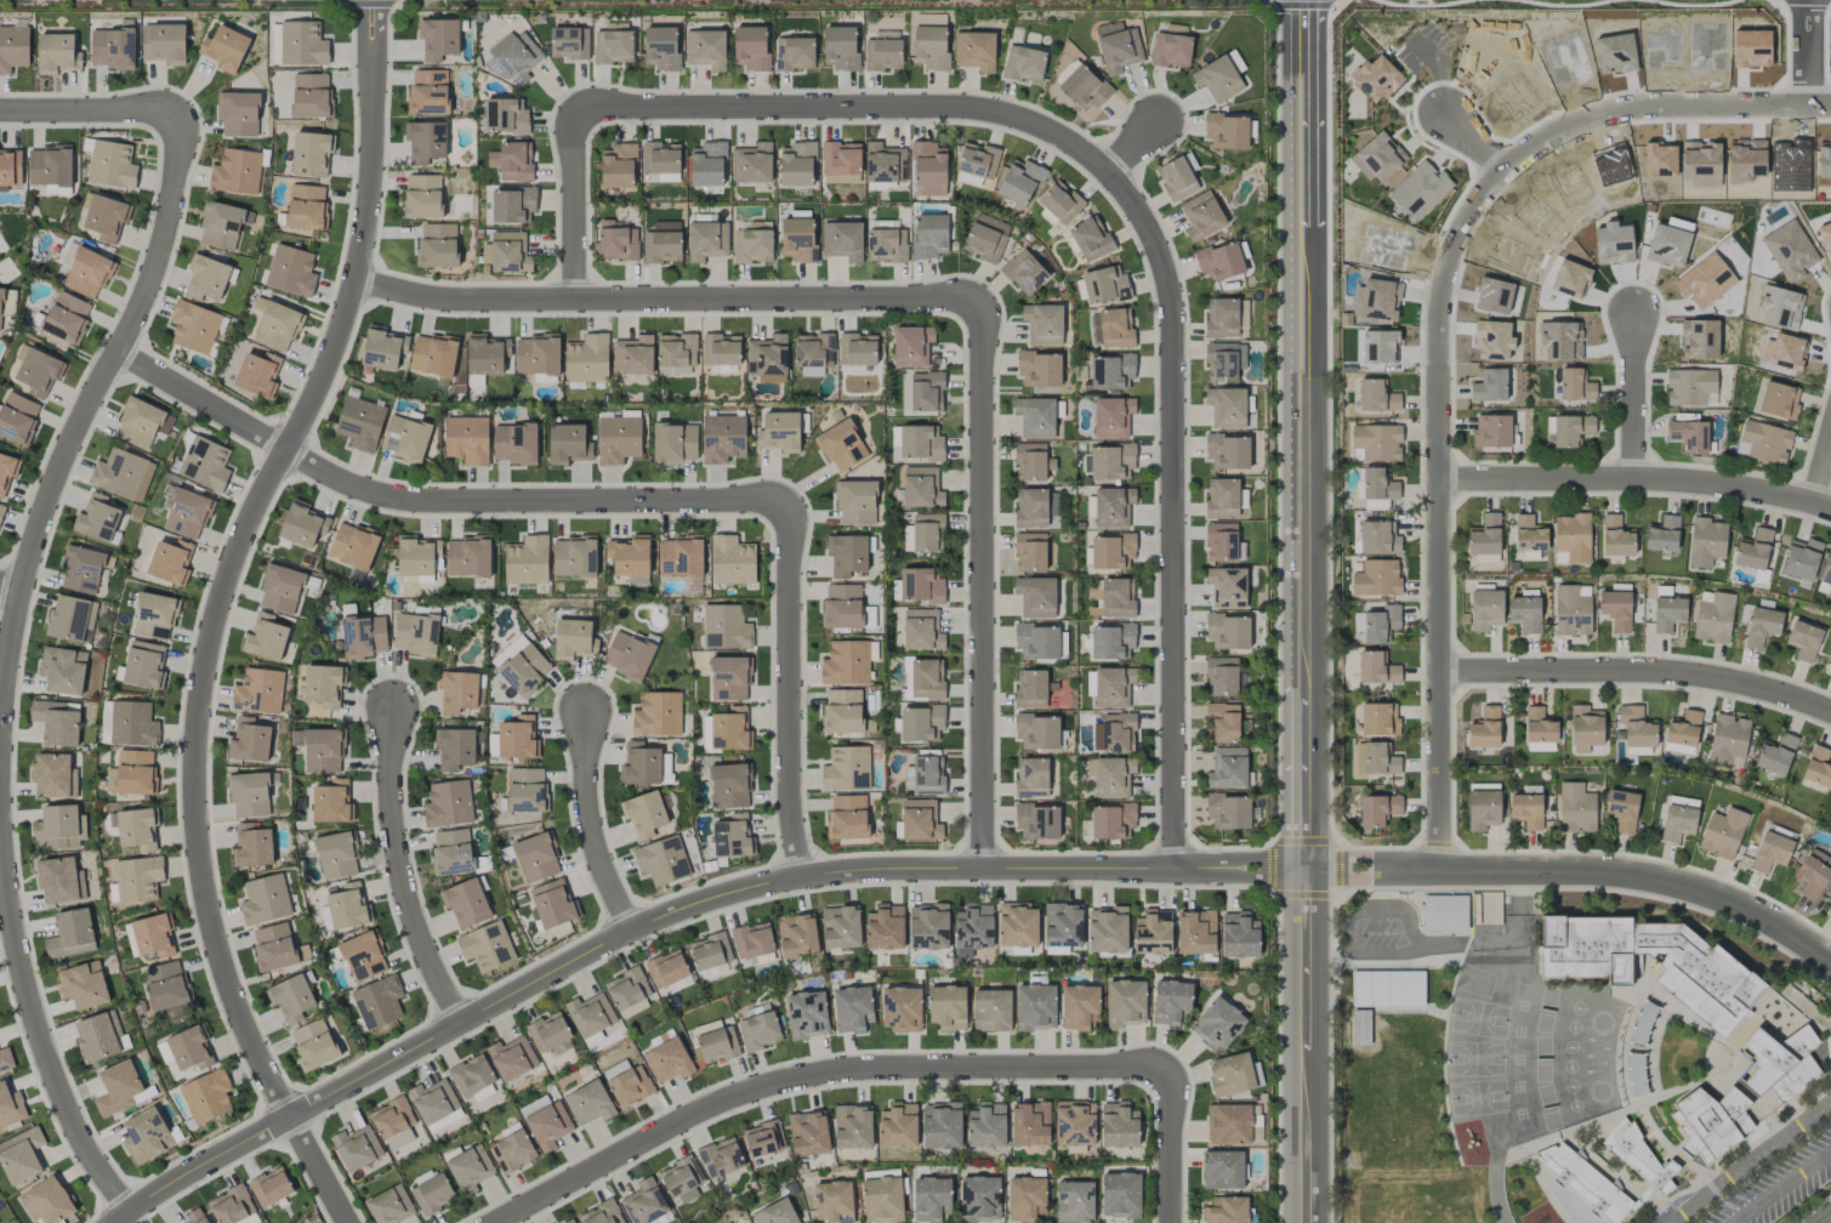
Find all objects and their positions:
building: (438, 38)
building: (164, 42)
building: (569, 42)
building: (301, 44)
building: (1706, 45)
building: (613, 46)
building: (931, 46)
building: (13, 47)
building: (660, 47)
building: (750, 47)
building: (840, 47)
building: (1118, 47)
building: (1171, 47)
building: (1662, 47)
building: (112, 49)
building: (224, 49)
building: (705, 49)
building: (1751, 49)
road: (1810, 50)
building: (974, 51)
building: (57, 53)
building: (794, 53)
building: (882, 53)
building: (1615, 53)
building: (514, 58)
building: (1565, 58)
building: (1234, 61)
building: (1023, 63)
building: (1217, 79)
building: (1084, 89)
building: (428, 92)
building: (1514, 95)
building: (311, 96)
road: (853, 106)
road: (93, 113)
building: (238, 114)
building: (506, 115)
building: (1227, 131)
road: (1554, 132)
road: (1475, 140)
building: (426, 142)
road: (1136, 143)
building: (311, 154)
building: (512, 160)
building: (1825, 161)
building: (660, 163)
building: (751, 163)
building: (843, 163)
building: (883, 163)
building: (110, 164)
building: (707, 164)
building: (797, 164)
building: (976, 164)
building: (50, 165)
building: (1790, 165)
building: (618, 166)
building: (10, 169)
building: (928, 169)
building: (235, 171)
building: (1176, 178)
building: (1019, 182)
building: (58, 190)
building: (422, 197)
road: (576, 201)
building: (1060, 201)
building: (512, 205)
building: (306, 206)
building: (1201, 216)
building: (106, 217)
building: (220, 226)
building: (929, 235)
building: (1826, 235)
building: (1090, 238)
building: (798, 239)
building: (706, 240)
building: (842, 240)
building: (615, 241)
building: (663, 243)
building: (983, 243)
building: (437, 245)
building: (886, 245)
building: (752, 246)
building: (506, 252)
building: (1219, 262)
building: (290, 271)
building: (1024, 272)
building: (87, 273)
building: (206, 278)
building: (1104, 285)
road: (669, 297)
building: (0, 307)
building: (66, 318)
building: (1221, 318)
building: (275, 324)
building: (1042, 324)
building: (193, 326)
building: (1115, 328)
building: (911, 346)
building: (382, 348)
building: (721, 349)
building: (857, 349)
building: (813, 353)
building: (433, 354)
building: (485, 354)
building: (538, 354)
building: (676, 354)
building: (633, 355)
building: (767, 355)
building: (586, 359)
building: (1224, 362)
building: (1039, 369)
building: (1111, 371)
building: (39, 372)
building: (257, 374)
building: (1575, 385)
building: (1489, 386)
building: (1689, 386)
building: (926, 392)
building: (1377, 396)
road: (1636, 400)
building: (1779, 400)
building: (1227, 406)
building: (17, 417)
building: (1035, 417)
building: (1113, 417)
building: (138, 422)
building: (360, 423)
building: (1571, 430)
building: (1492, 431)
building: (779, 432)
road: (1304, 436)
building: (1688, 436)
building: (405, 438)
building: (722, 438)
building: (467, 439)
building: (618, 439)
building: (1377, 442)
building: (1765, 442)
building: (514, 443)
building: (675, 443)
building: (921, 443)
building: (568, 444)
building: (841, 445)
building: (1228, 451)
road: (1820, 461)
building: (1031, 462)
building: (1111, 462)
building: (205, 463)
building: (6, 473)
building: (121, 474)
road: (1637, 482)
building: (921, 488)
building: (1378, 489)
building: (1222, 497)
road: (437, 501)
building: (855, 504)
building: (1031, 507)
building: (1113, 507)
building: (1, 512)
building: (186, 513)
road: (1176, 513)
building: (97, 518)
building: (303, 525)
building: (927, 533)
building: (1529, 534)
building: (1662, 534)
building: (1485, 535)
building: (1573, 536)
building: (1616, 536)
building: (1378, 537)
building: (908, 539)
building: (1222, 541)
building: (1706, 541)
building: (353, 545)
building: (1753, 550)
building: (1030, 551)
building: (1111, 551)
building: (847, 554)
road: (235, 556)
building: (417, 556)
building: (468, 556)
building: (574, 556)
building: (630, 556)
building: (679, 557)
building: (1802, 559)
building: (527, 561)
building: (732, 561)
building: (170, 562)
building: (81, 570)
building: (1376, 578)
road: (985, 581)
road: (11, 585)
building: (921, 585)
building: (1227, 587)
building: (280, 588)
building: (1036, 597)
building: (1114, 597)
building: (842, 607)
building: (1485, 609)
building: (1573, 609)
building: (1616, 609)
building: (1667, 611)
building: (1525, 614)
building: (154, 616)
building: (1713, 618)
building: (72, 619)
road: (1442, 620)
building: (1376, 625)
building: (1762, 626)
building: (726, 627)
building: (922, 630)
building: (1228, 632)
building: (415, 633)
building: (364, 636)
building: (265, 637)
building: (574, 639)
building: (1037, 641)
building: (1111, 641)
building: (1804, 641)
building: (507, 650)
building: (627, 655)
road: (8, 660)
building: (846, 664)
building: (144, 665)
building: (1377, 669)
building: (62, 670)
building: (524, 670)
building: (1830, 670)
road: (1639, 673)
building: (1221, 677)
building: (729, 678)
building: (927, 678)
building: (323, 684)
building: (1113, 687)
road: (792, 688)
building: (1030, 688)
building: (258, 690)
building: (457, 692)
building: (842, 711)
building: (658, 713)
building: (1378, 718)
building: (921, 722)
building: (1223, 722)
building: (132, 724)
building: (1637, 727)
building: (1485, 728)
building: (1585, 728)
building: (730, 729)
building: (1539, 730)
building: (706, 732)
building: (1037, 732)
building: (1114, 733)
building: (1682, 733)
building: (518, 738)
building: (249, 740)
building: (1728, 740)
building: (320, 749)
building: (455, 749)
building: (1637, 751)
building: (1776, 755)
building: (1376, 758)
building: (1818, 767)
building: (1227, 768)
building: (846, 769)
building: (132, 773)
building: (925, 775)
building: (53, 777)
building: (1113, 777)
building: (1031, 778)
building: (730, 785)
building: (525, 790)
building: (249, 795)
building: (331, 802)
building: (448, 804)
building: (1576, 808)
building: (1378, 809)
building: (1483, 809)
building: (1621, 809)
building: (1526, 810)
building: (1228, 812)
building: (644, 814)
building: (847, 817)
building: (920, 820)
building: (1037, 821)
building: (1113, 821)
building: (1677, 823)
road: (590, 826)
building: (58, 827)
building: (137, 829)
building: (1723, 832)
building: (733, 837)
building: (251, 846)
building: (451, 852)
building: (1770, 852)
building: (336, 855)
building: (536, 857)
building: (661, 860)
road: (1579, 872)
road: (400, 874)
building: (1813, 874)
building: (138, 878)
building: (59, 880)
building: (265, 899)
building: (466, 903)
building: (553, 903)
building: (347, 906)
building: (1490, 908)
building: (1829, 910)
building: (1444, 911)
road: (676, 915)
road: (1350, 921)
building: (1018, 925)
building: (928, 926)
building: (841, 927)
building: (885, 927)
building: (1062, 927)
building: (973, 928)
building: (1107, 929)
building: (1153, 932)
building: (1196, 932)
building: (70, 934)
building: (1239, 934)
building: (154, 935)
building: (797, 935)
road: (1494, 938)
building: (752, 940)
building: (273, 946)
building: (487, 946)
building: (710, 951)
building: (363, 956)
building: (666, 968)
building: (1707, 977)
building: (83, 985)
building: (166, 985)
building: (1386, 989)
building: (629, 991)
building: (291, 999)
building: (377, 1002)
building: (1126, 1002)
building: (1171, 1002)
building: (1079, 1006)
building: (948, 1007)
building: (1035, 1007)
building: (852, 1008)
building: (900, 1008)
building: (991, 1011)
building: (590, 1014)
building: (807, 1014)
building: (1643, 1023)
building: (1217, 1024)
building: (758, 1030)
building: (550, 1035)
building: (99, 1036)
building: (716, 1042)
building: (313, 1045)
road: (1308, 1047)
building: (191, 1048)
building: (164, 1052)
building: (512, 1058)
building: (5, 1059)
building: (667, 1060)
building: (1773, 1065)
road: (817, 1071)
building: (1230, 1074)
building: (471, 1075)
building: (626, 1083)
building: (118, 1088)
building: (206, 1097)
building: (433, 1102)
building: (588, 1103)
building: (11, 1107)
building: (1075, 1122)
building: (1711, 1122)
building: (393, 1124)
building: (1030, 1124)
building: (1228, 1124)
building: (548, 1125)
building: (898, 1125)
building: (942, 1125)
building: (986, 1125)
building: (1119, 1125)
building: (853, 1126)
building: (808, 1133)
building: (146, 1136)
building: (763, 1138)
road: (1172, 1145)
building: (356, 1148)
building: (512, 1149)
building: (21, 1156)
building: (1638, 1156)
building: (721, 1157)
road: (1752, 1162)
building: (470, 1168)
road: (320, 1170)
building: (1222, 1170)
building: (682, 1181)
building: (269, 1187)
road: (1784, 1187)
building: (1581, 1188)
building: (432, 1194)
building: (1120, 1195)
building: (979, 1198)
building: (882, 1199)
building: (931, 1199)
building: (1027, 1199)
building: (831, 1200)
building: (47, 1201)
building: (1074, 1201)
building: (232, 1205)
building: (389, 1205)
building: (1227, 1210)
building: (601, 1213)
building: (775, 1213)
building: (195, 1216)
building: (570, 1221)
road: (1830, 1222)

